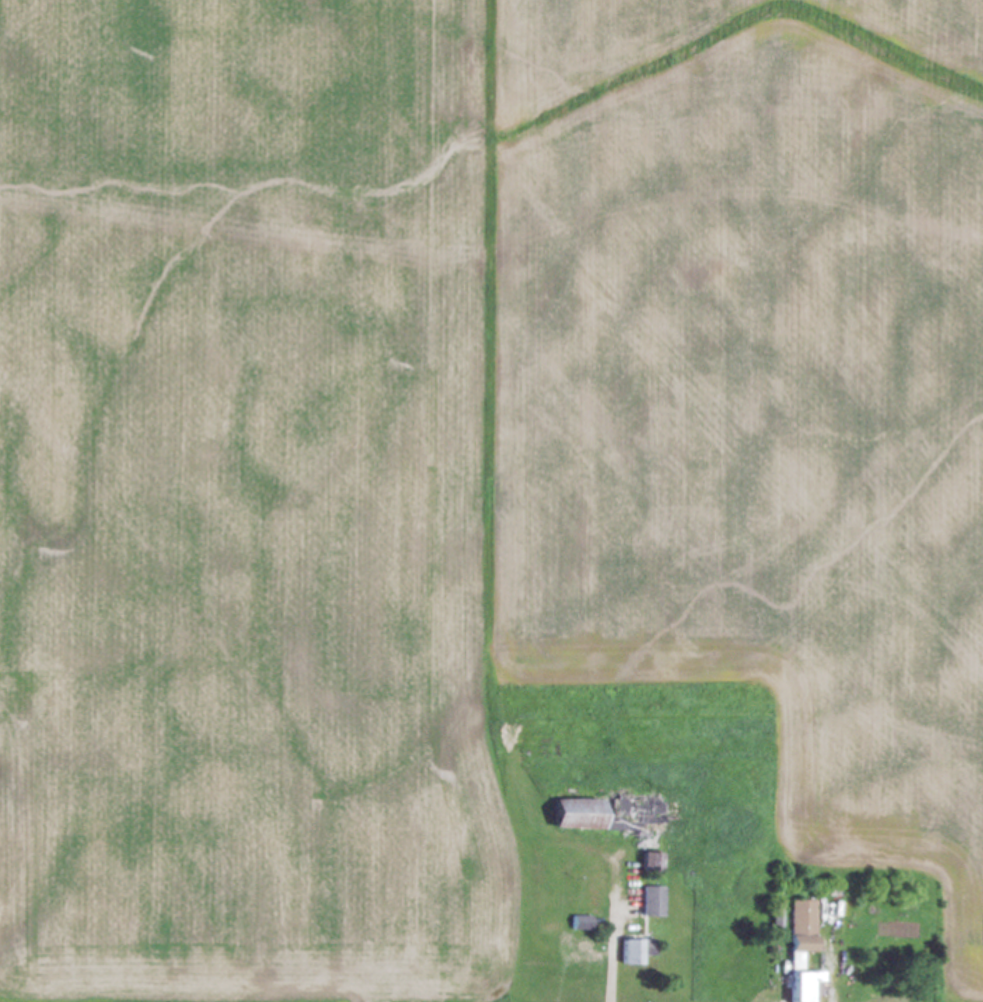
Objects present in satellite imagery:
building: (572, 815)
building: (648, 902)
building: (578, 924)
road: (614, 935)
building: (632, 952)
building: (799, 952)
road: (835, 982)

